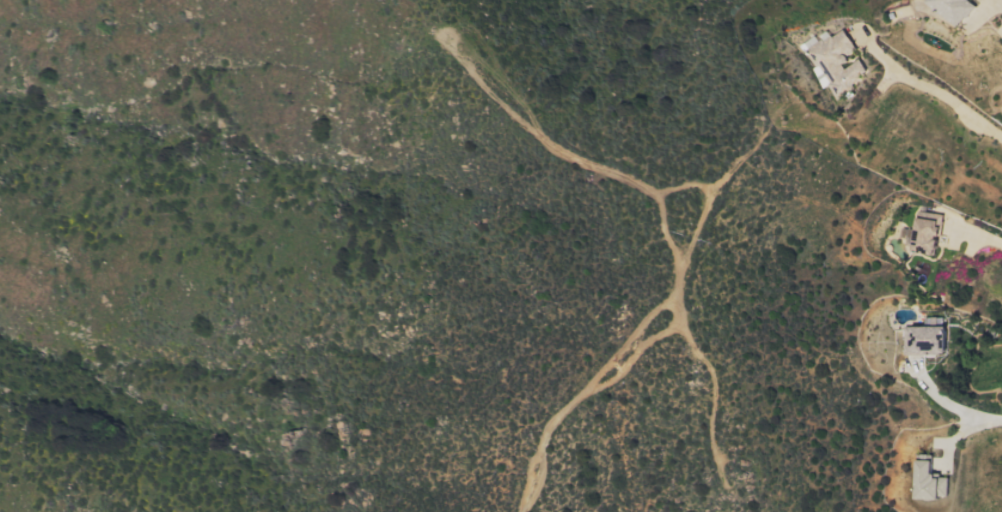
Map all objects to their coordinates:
road: (1001, 0)
road: (977, 7)
building: (953, 9)
building: (838, 63)
road: (929, 88)
building: (928, 232)
road: (973, 232)
building: (926, 337)
road: (982, 417)
building: (931, 482)

